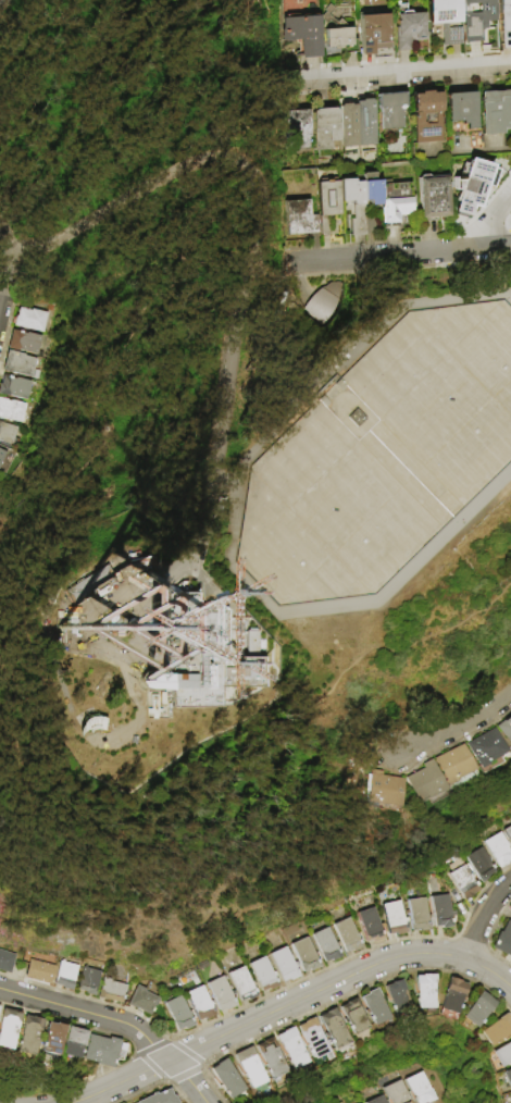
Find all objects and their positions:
building: (287, 2)
building: (446, 20)
building: (478, 21)
building: (506, 22)
building: (409, 28)
building: (373, 33)
building: (302, 35)
building: (340, 39)
road: (395, 74)
building: (462, 110)
building: (391, 111)
building: (427, 117)
building: (496, 119)
building: (365, 123)
building: (348, 125)
building: (325, 128)
building: (296, 131)
road: (464, 153)
road: (167, 176)
building: (371, 189)
building: (472, 190)
building: (432, 198)
building: (395, 203)
building: (353, 205)
building: (327, 206)
building: (299, 219)
road: (487, 222)
road: (2, 235)
road: (487, 248)
road: (374, 257)
road: (272, 265)
road: (5, 271)
building: (322, 303)
building: (29, 319)
building: (23, 342)
road: (353, 352)
building: (17, 363)
road: (235, 373)
building: (14, 387)
building: (11, 410)
building: (7, 433)
building: (1, 455)
road: (225, 483)
road: (208, 494)
building: (216, 505)
road: (444, 535)
road: (198, 537)
building: (135, 560)
building: (140, 566)
building: (84, 585)
road: (260, 595)
building: (63, 615)
building: (72, 625)
road: (373, 625)
road: (445, 625)
road: (4, 640)
building: (249, 643)
building: (200, 656)
building: (85, 723)
building: (506, 729)
road: (458, 730)
building: (486, 747)
building: (454, 765)
building: (425, 783)
building: (384, 790)
building: (509, 832)
building: (500, 851)
building: (483, 866)
building: (465, 882)
building: (440, 912)
building: (419, 915)
road: (481, 916)
building: (394, 918)
building: (370, 926)
building: (347, 935)
building: (504, 941)
building: (325, 945)
building: (304, 955)
building: (5, 962)
building: (285, 965)
building: (38, 972)
building: (65, 975)
building: (262, 975)
building: (88, 981)
building: (241, 984)
building: (111, 990)
building: (425, 992)
building: (221, 994)
building: (452, 996)
building: (397, 997)
building: (141, 1001)
building: (200, 1004)
road: (287, 1004)
building: (374, 1007)
building: (478, 1011)
building: (178, 1014)
building: (353, 1017)
road: (117, 1021)
building: (7, 1025)
building: (334, 1029)
building: (497, 1030)
building: (27, 1032)
building: (50, 1036)
building: (313, 1039)
building: (72, 1040)
building: (101, 1049)
building: (291, 1049)
building: (502, 1055)
building: (271, 1058)
building: (249, 1067)
building: (507, 1078)
building: (226, 1079)
building: (420, 1089)
building: (397, 1093)
building: (510, 1096)
building: (161, 1098)
building: (377, 1100)

